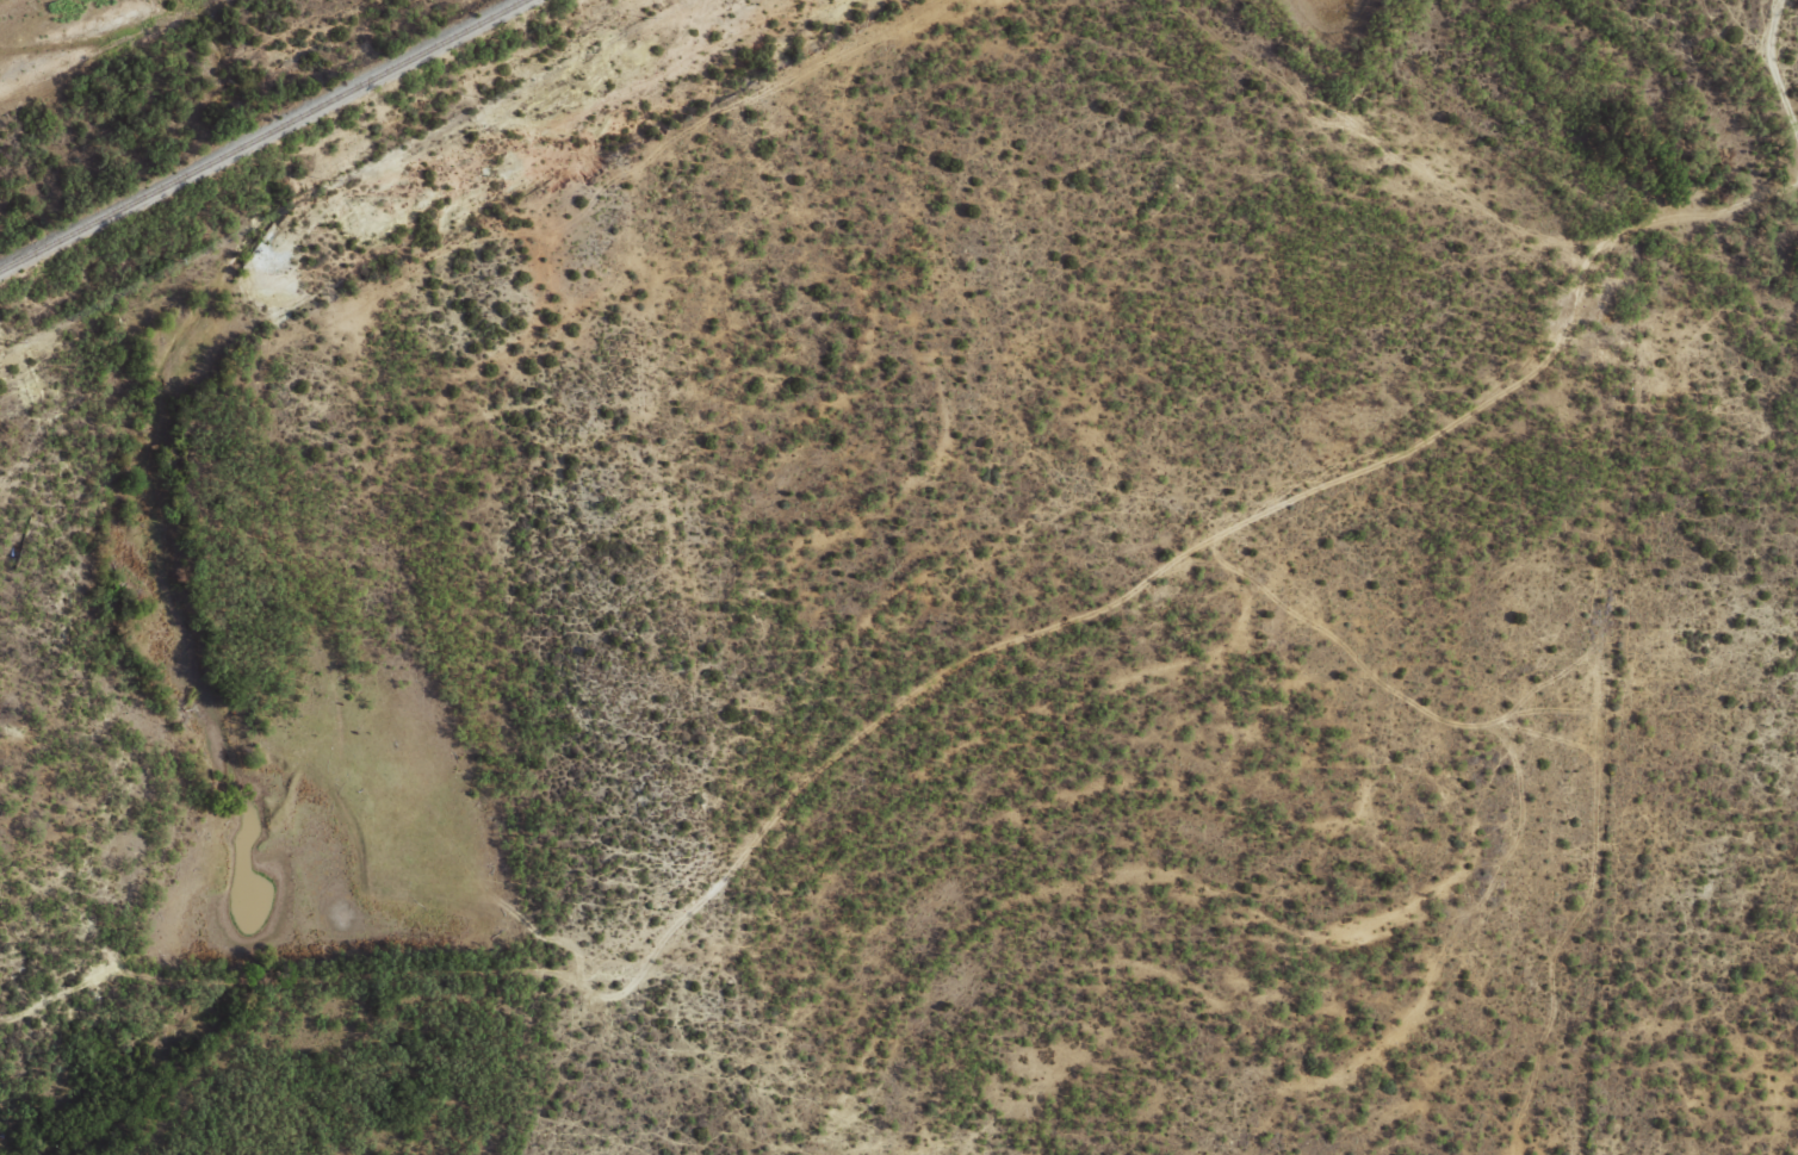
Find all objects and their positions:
road: (1771, 72)
railway: (256, 131)

